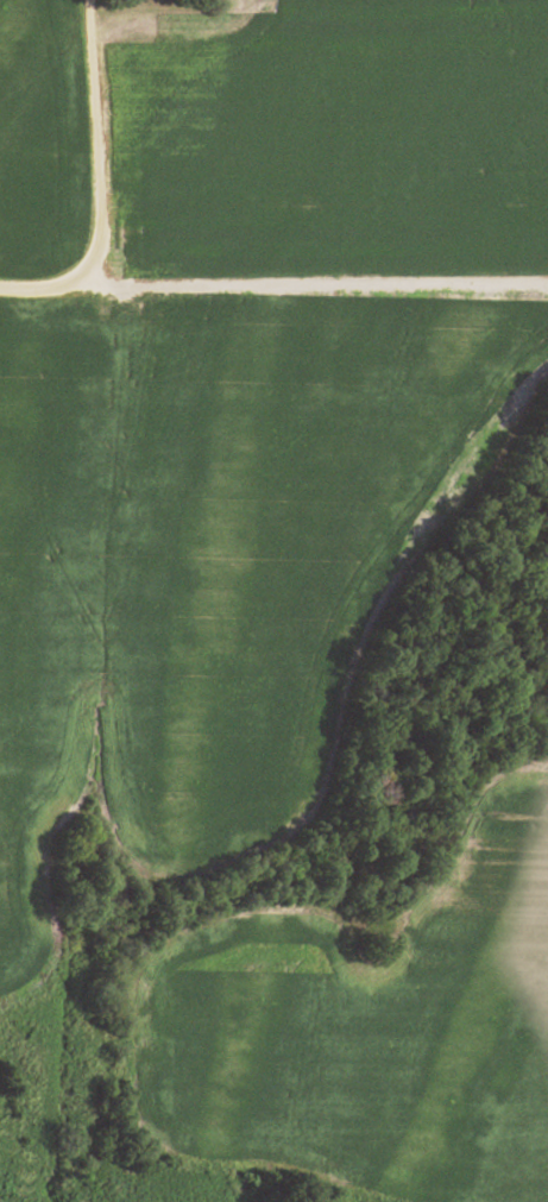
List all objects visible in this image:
road: (90, 166)
road: (11, 288)

